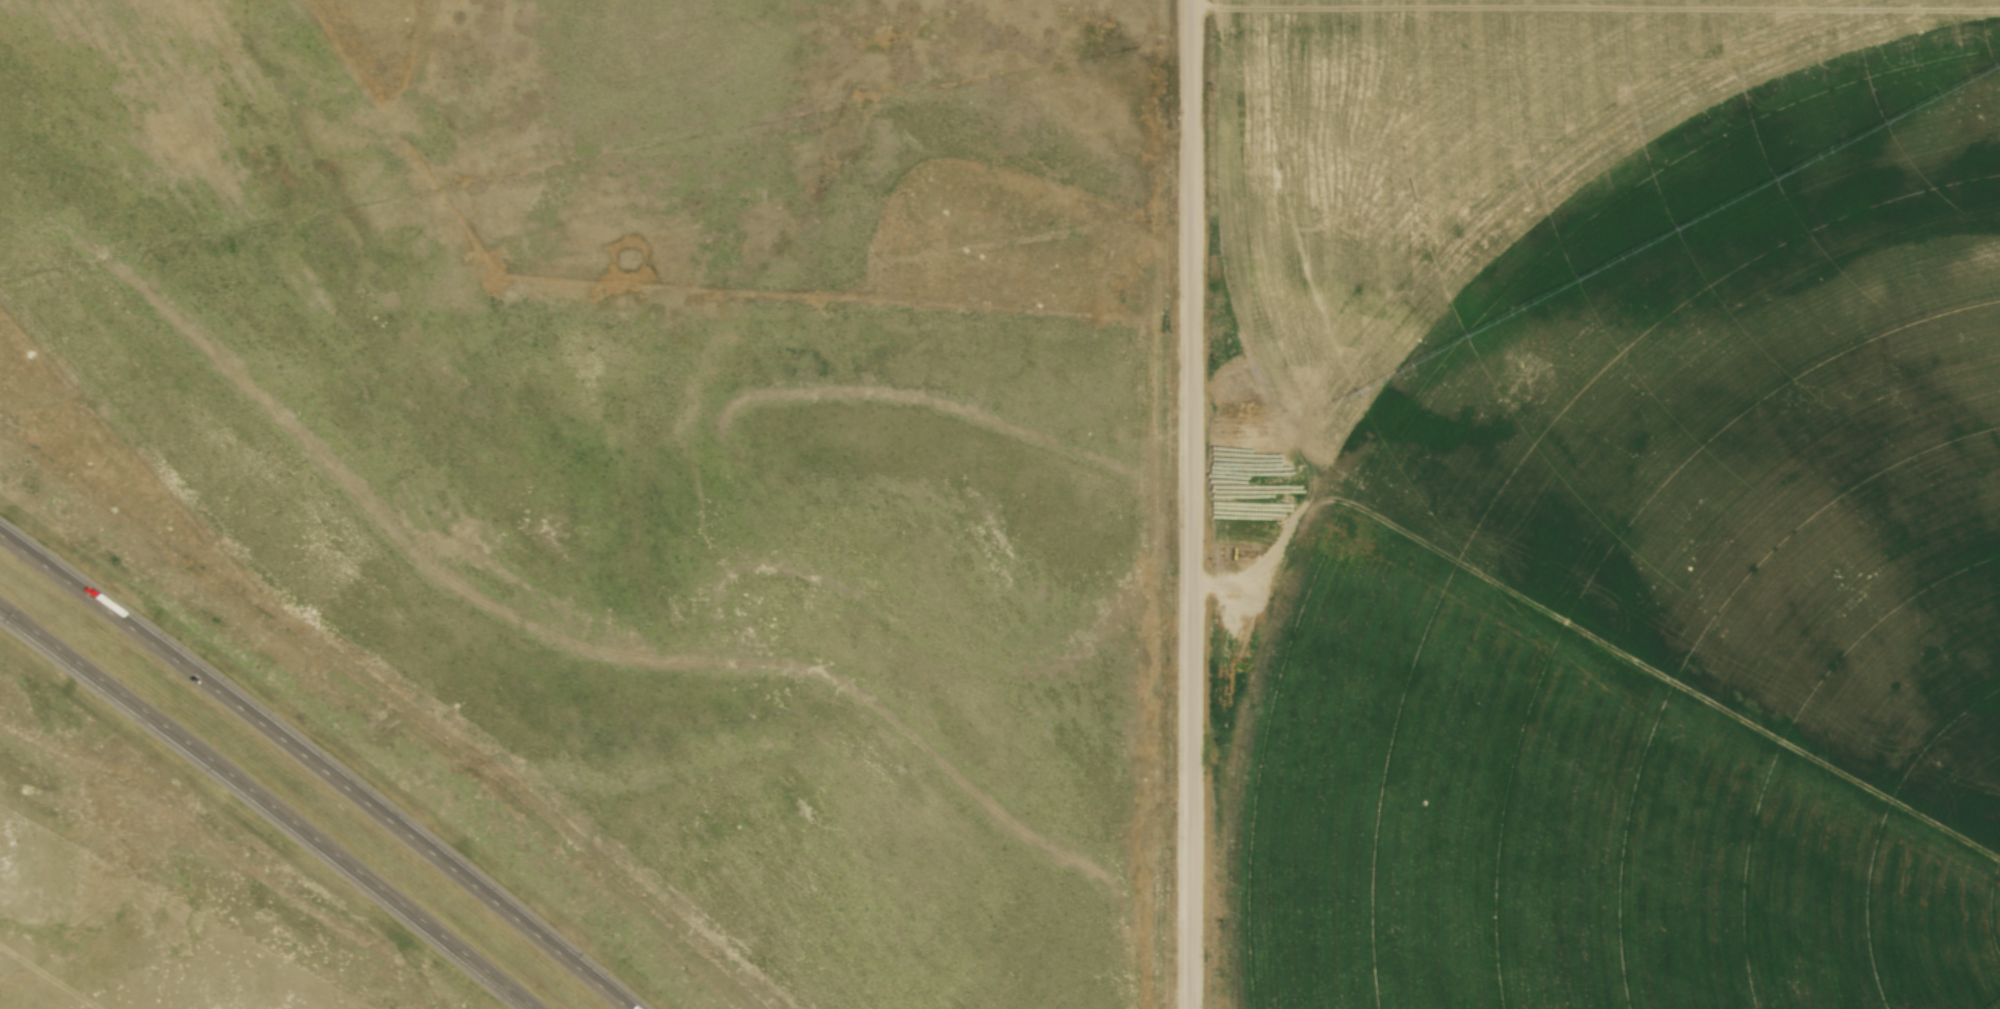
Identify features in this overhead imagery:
road: (1186, 504)
crop: (1618, 504)
road: (316, 764)
road: (270, 803)

